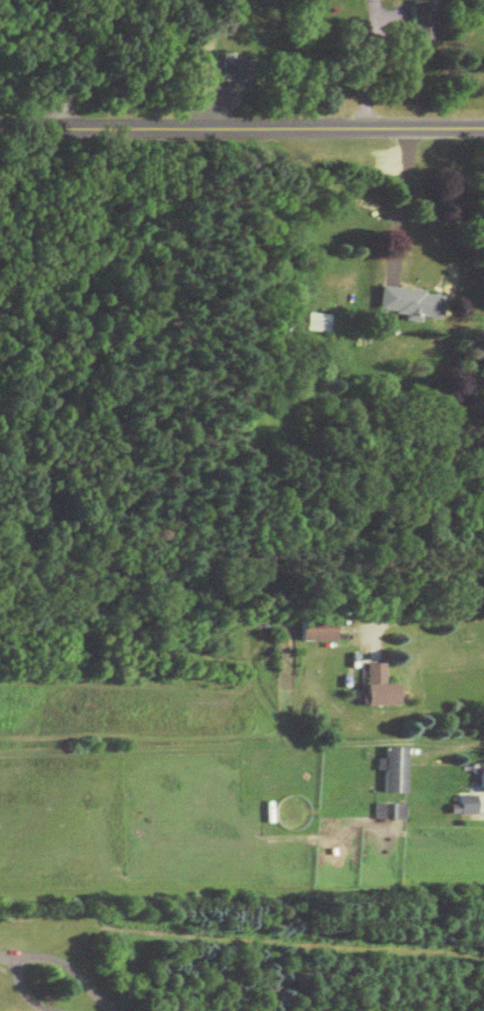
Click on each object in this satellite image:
building: (423, 20)
road: (86, 62)
road: (368, 62)
building: (234, 67)
road: (241, 125)
road: (401, 192)
building: (409, 301)
building: (315, 320)
road: (432, 613)
building: (315, 628)
building: (376, 684)
building: (392, 767)
building: (481, 774)
road: (480, 798)
building: (463, 804)
building: (389, 809)
road: (43, 959)

